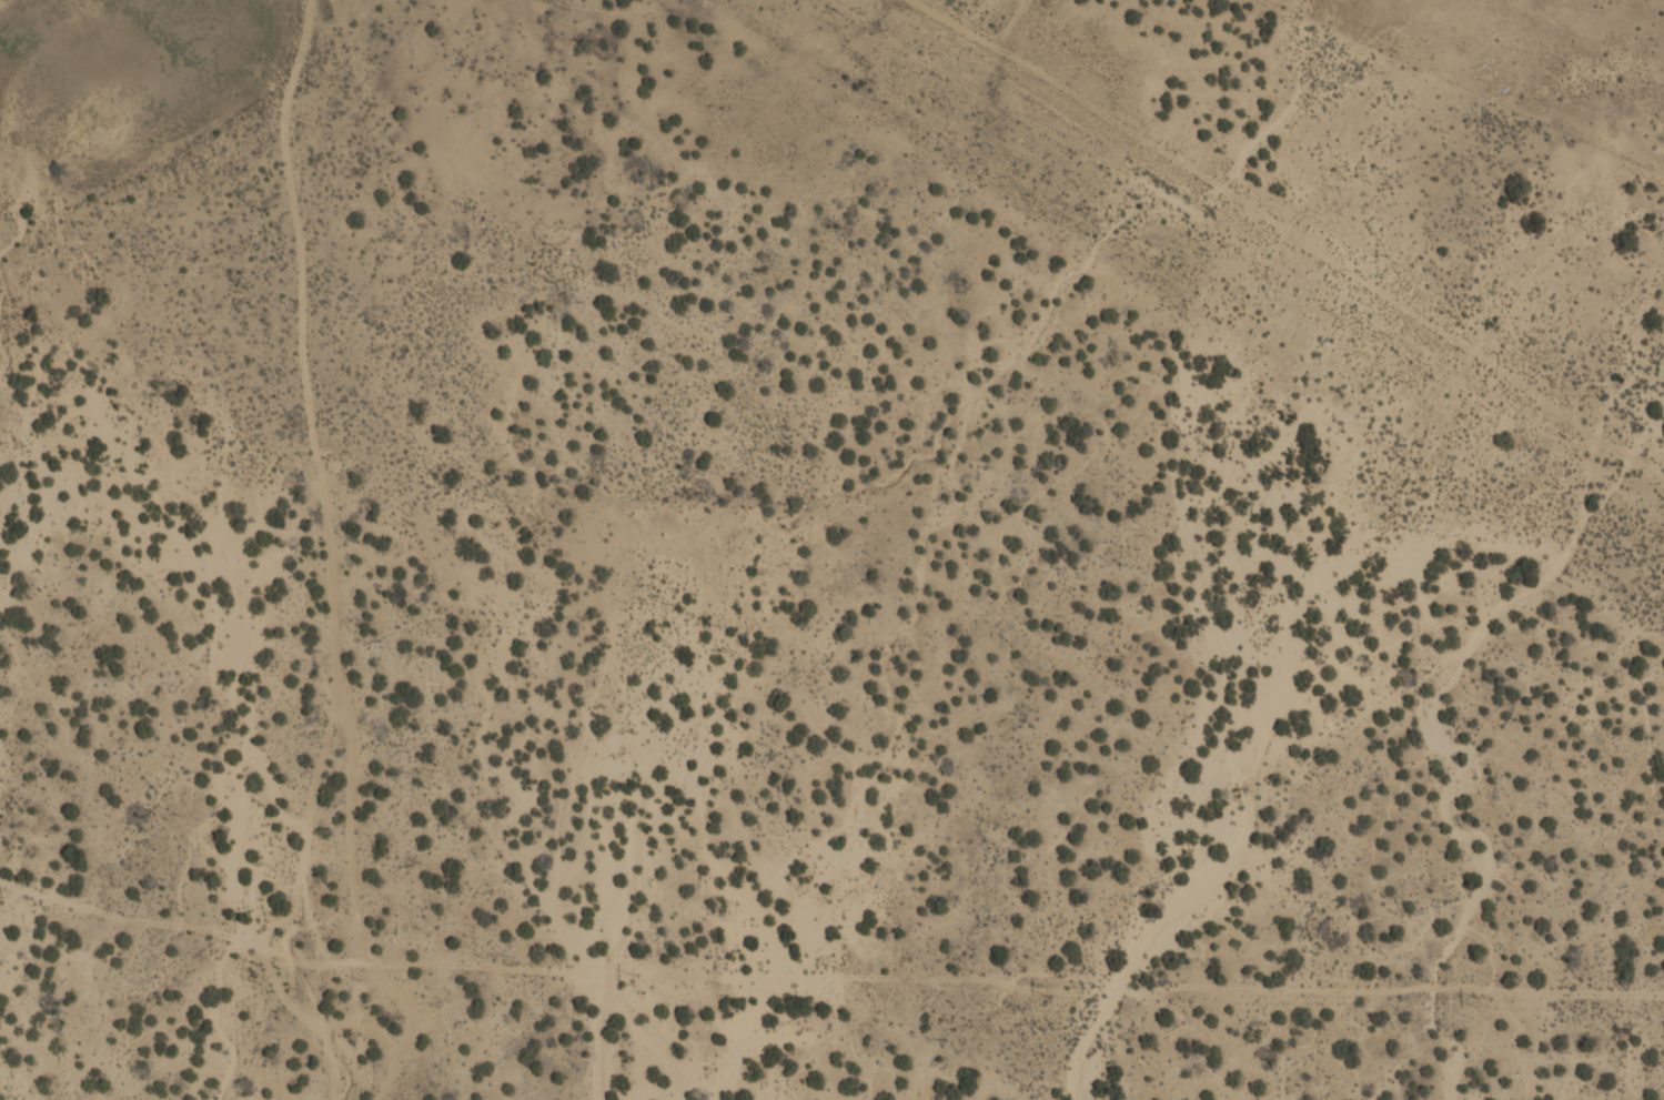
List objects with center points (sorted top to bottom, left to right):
road: (332, 556)
power tower: (258, 970)
power tower: (633, 980)
power tower: (1046, 991)
power tower: (1476, 1002)

